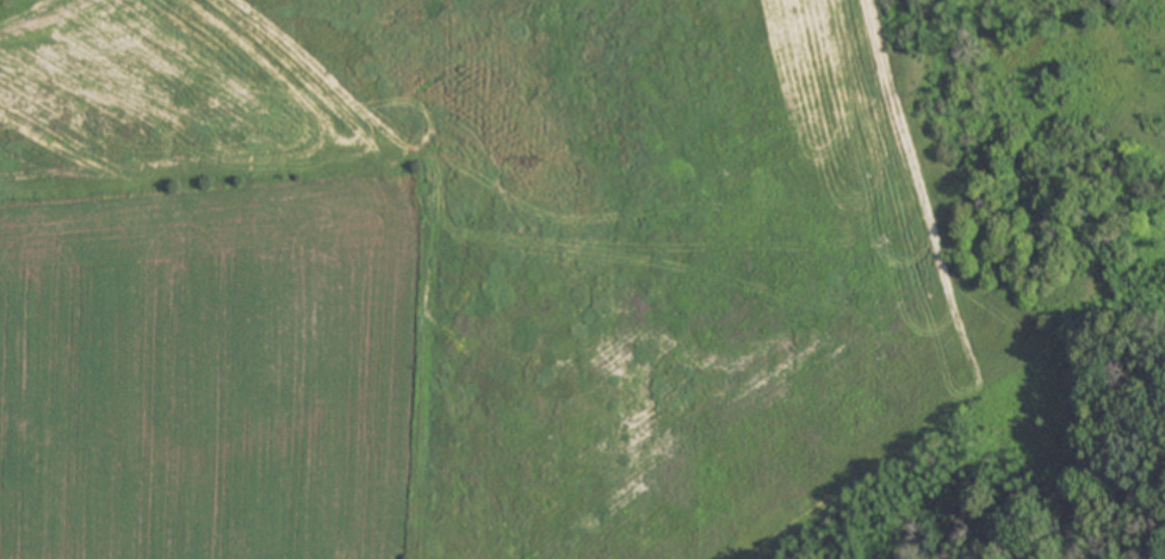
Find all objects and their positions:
crop: (478, 277)

